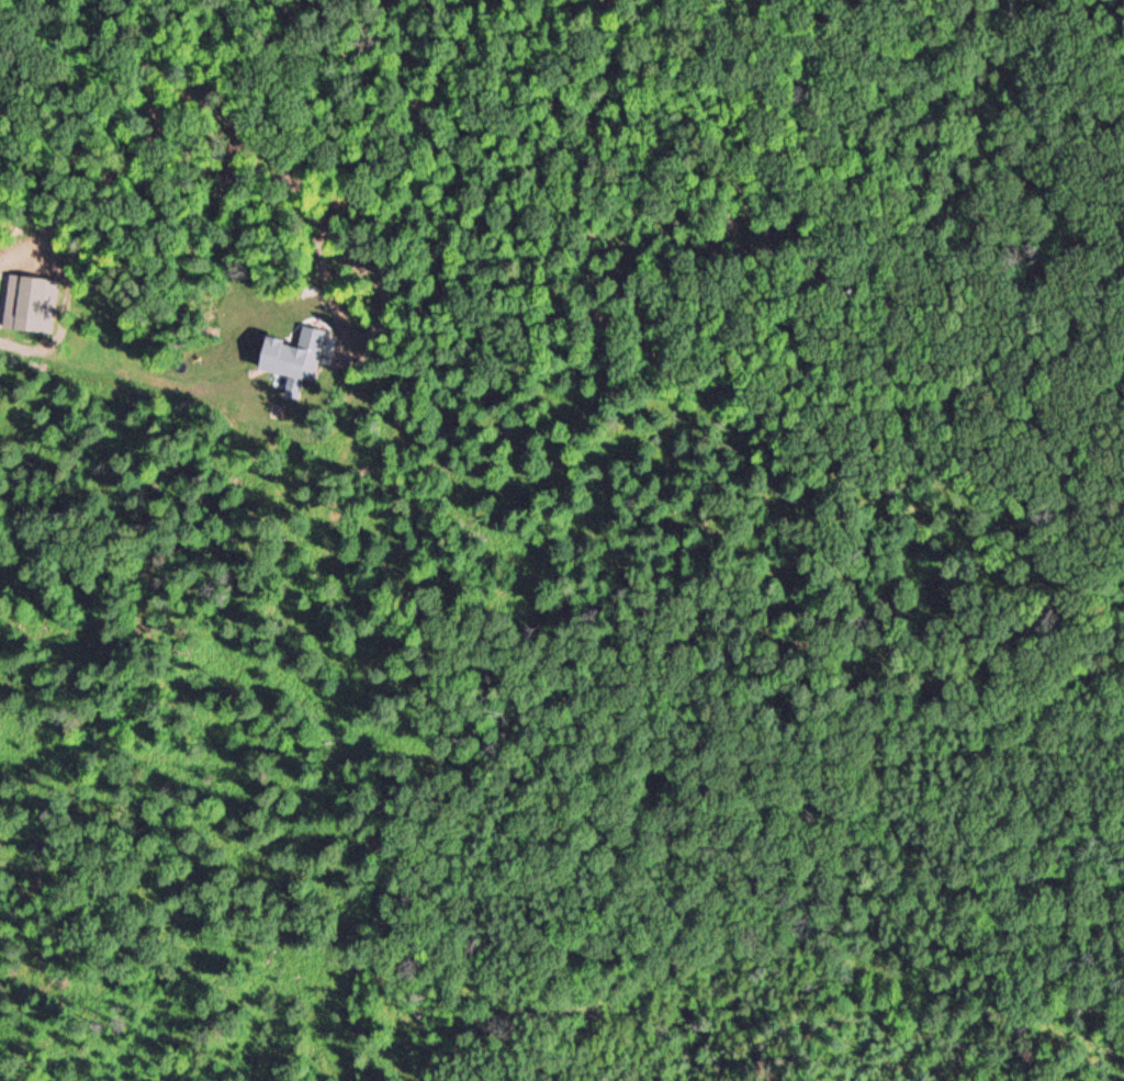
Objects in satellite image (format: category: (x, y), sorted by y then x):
building: (30, 302)

